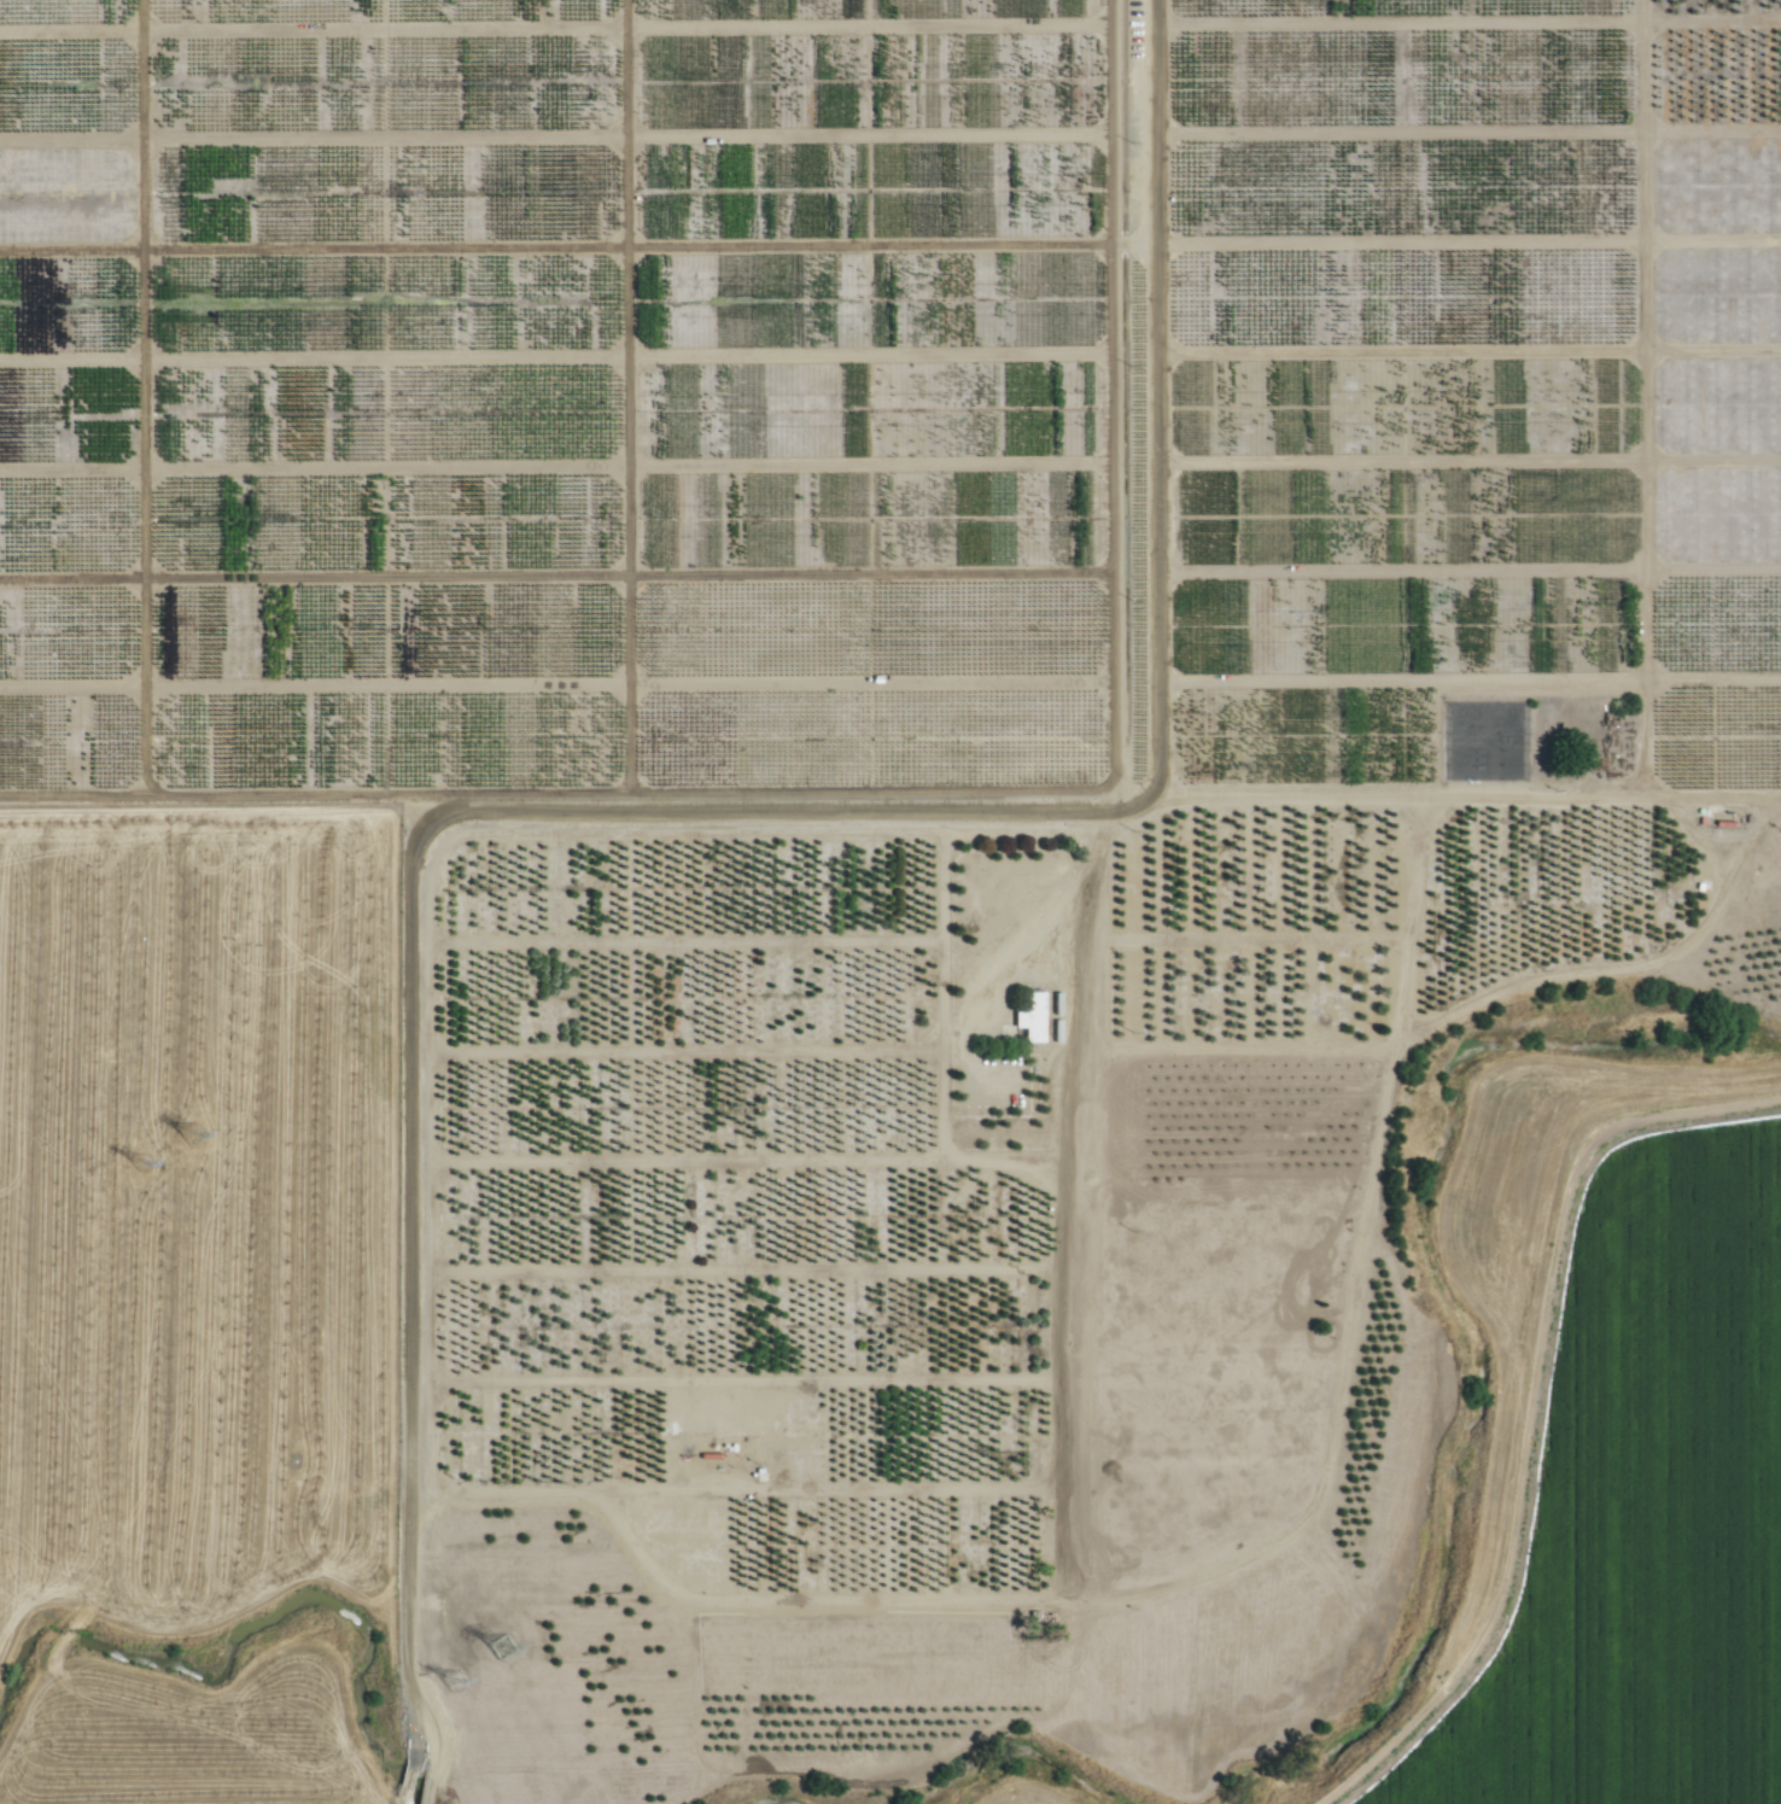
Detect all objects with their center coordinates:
building: (1583, 741)
road: (629, 816)
road: (1050, 901)
building: (1029, 1017)
power tower: (183, 1133)
power tower: (135, 1163)
power tower: (498, 1645)
power tower: (454, 1680)
road: (407, 1779)
road: (402, 1798)

